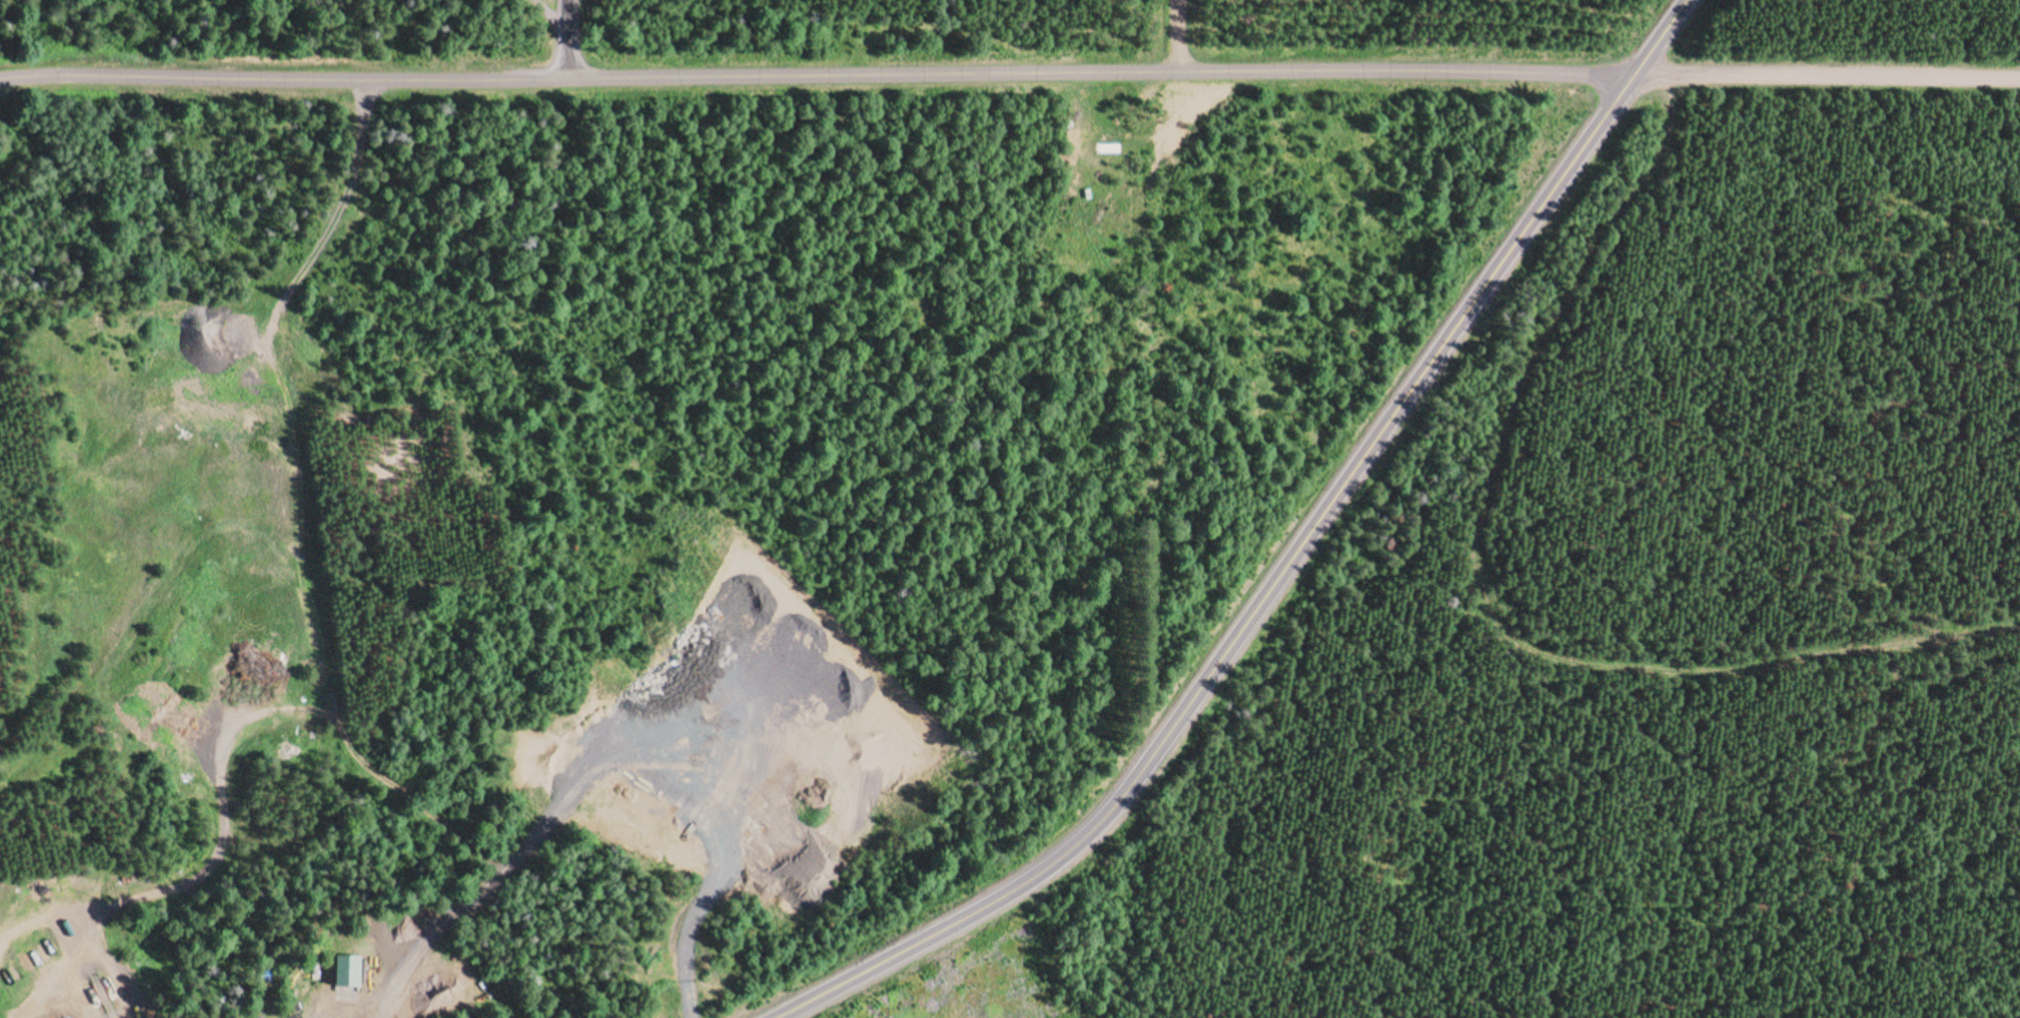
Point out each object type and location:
road: (1180, 37)
road: (569, 40)
road: (815, 78)
road: (1825, 81)
park: (697, 529)
road: (1280, 567)
road: (72, 936)
building: (344, 970)

